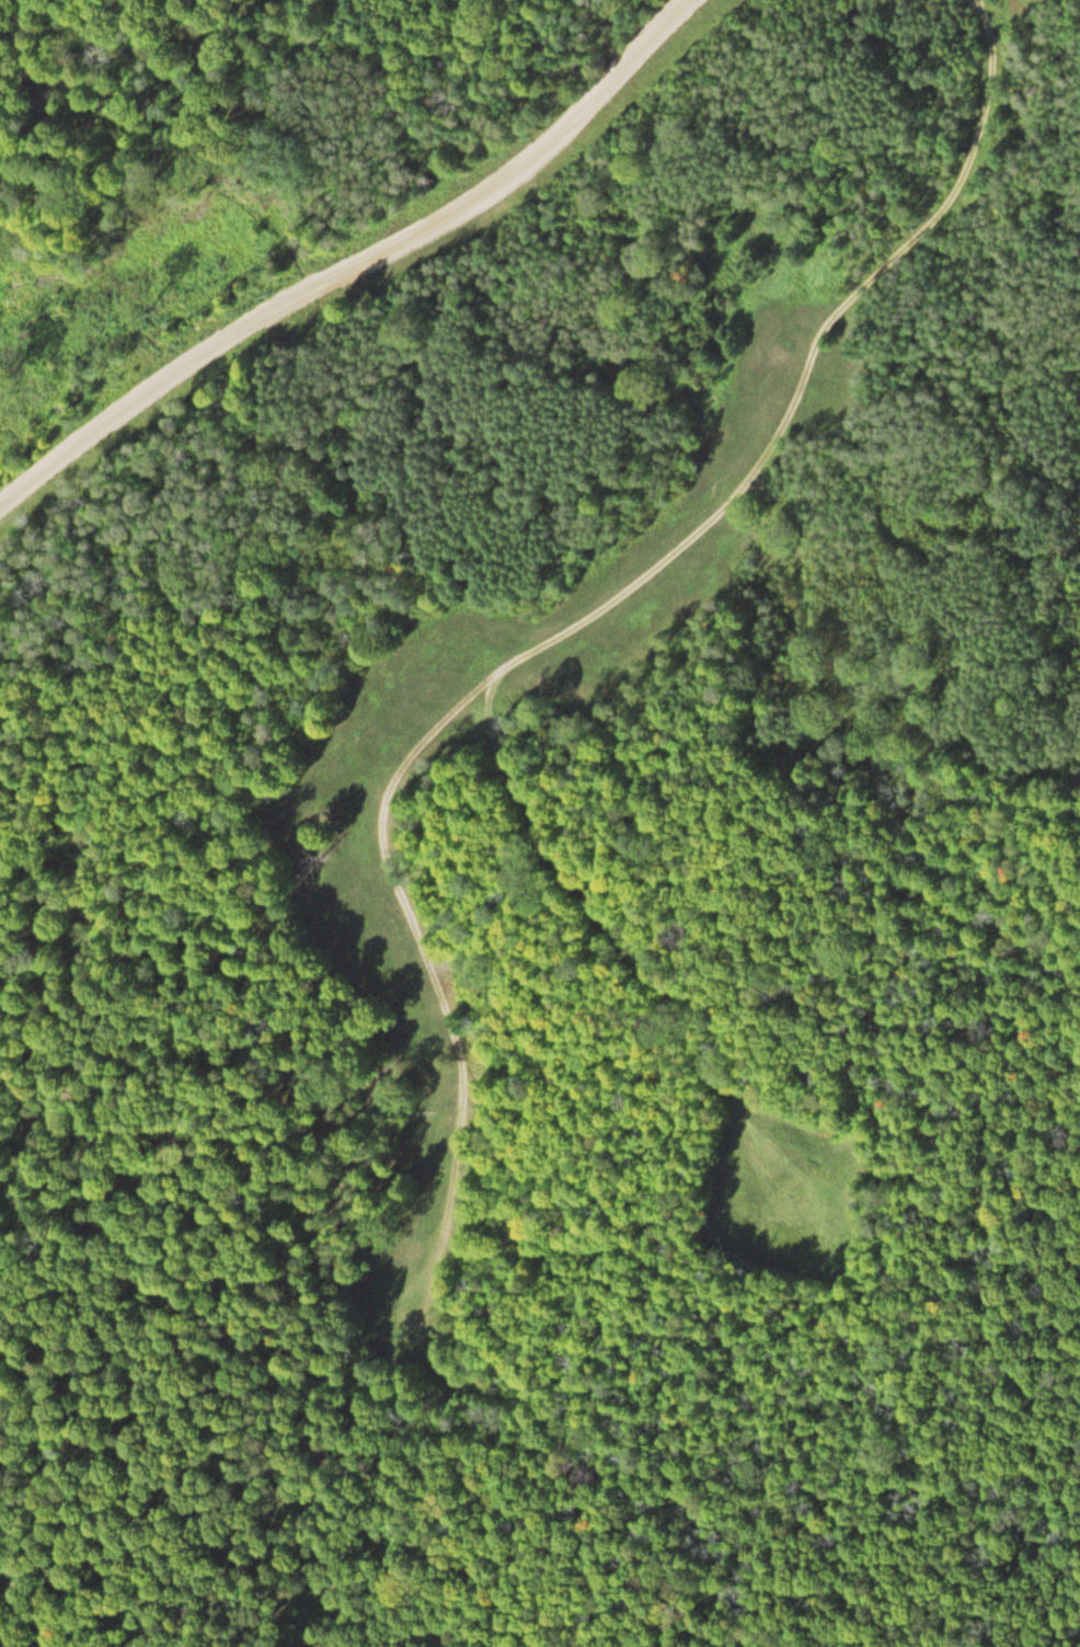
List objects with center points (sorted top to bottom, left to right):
road: (361, 268)

